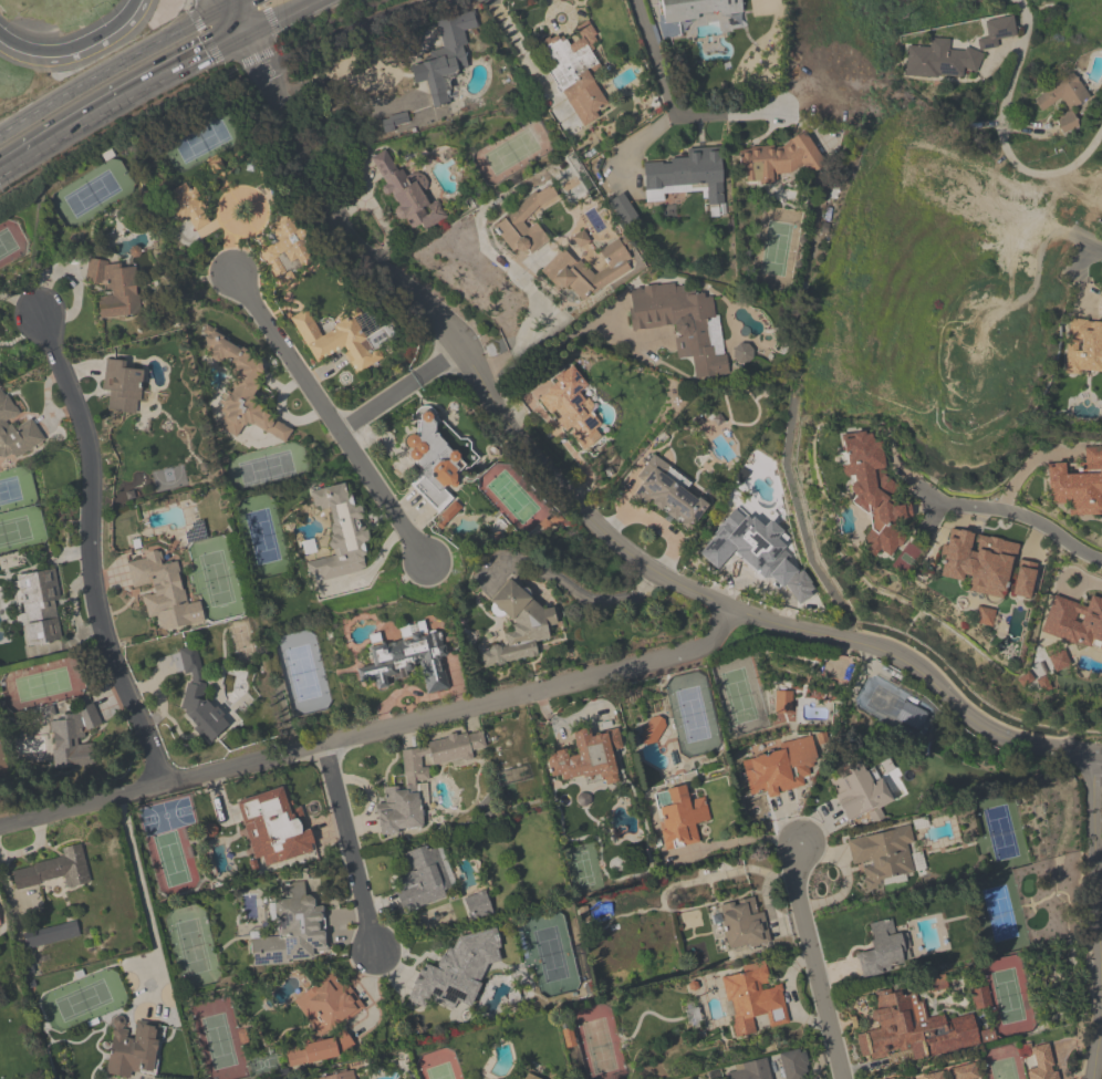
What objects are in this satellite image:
road: (225, 4)
traffic signals: (217, 9)
building: (697, 10)
road: (250, 11)
road: (283, 11)
road: (221, 17)
traffic signals: (258, 23)
road: (246, 29)
road: (351, 30)
building: (997, 32)
traffic signals: (233, 35)
road: (258, 40)
road: (246, 45)
road: (79, 51)
road: (526, 58)
building: (445, 59)
building: (940, 61)
road: (107, 69)
building: (576, 74)
road: (666, 84)
road: (114, 96)
building: (1063, 102)
road: (726, 117)
road: (1002, 134)
building: (774, 162)
building: (683, 177)
building: (407, 196)
building: (187, 207)
building: (622, 209)
building: (524, 222)
building: (580, 239)
road: (232, 242)
building: (287, 250)
building: (586, 270)
building: (116, 289)
building: (685, 323)
road: (523, 334)
road: (569, 336)
building: (336, 341)
building: (1084, 346)
building: (741, 355)
building: (981, 360)
building: (122, 386)
road: (399, 391)
building: (242, 392)
building: (568, 405)
road: (331, 419)
building: (15, 430)
building: (432, 464)
building: (1077, 484)
building: (873, 492)
building: (668, 494)
road: (1016, 513)
road: (583, 517)
road: (802, 520)
building: (339, 533)
building: (742, 544)
road: (92, 551)
building: (978, 562)
building: (1023, 580)
road: (571, 587)
building: (164, 592)
building: (39, 608)
building: (1075, 623)
building: (518, 626)
building: (189, 660)
building: (1059, 661)
building: (407, 663)
building: (782, 702)
building: (200, 714)
building: (652, 729)
road: (375, 732)
building: (71, 738)
building: (586, 757)
road: (1096, 760)
building: (779, 768)
building: (419, 781)
building: (859, 791)
building: (679, 817)
building: (273, 828)
road: (1096, 838)
road: (739, 842)
road: (352, 847)
building: (884, 855)
building: (54, 871)
building: (423, 879)
road: (144, 904)
building: (741, 924)
building: (0, 930)
building: (292, 931)
building: (882, 951)
road: (813, 962)
building: (456, 972)
building: (752, 1000)
building: (328, 1005)
building: (902, 1031)
building: (132, 1051)
building: (319, 1051)
road: (1098, 1057)
building: (1041, 1064)
building: (792, 1065)
building: (749, 1070)
building: (339, 1076)
building: (928, 1076)
building: (529, 1077)

